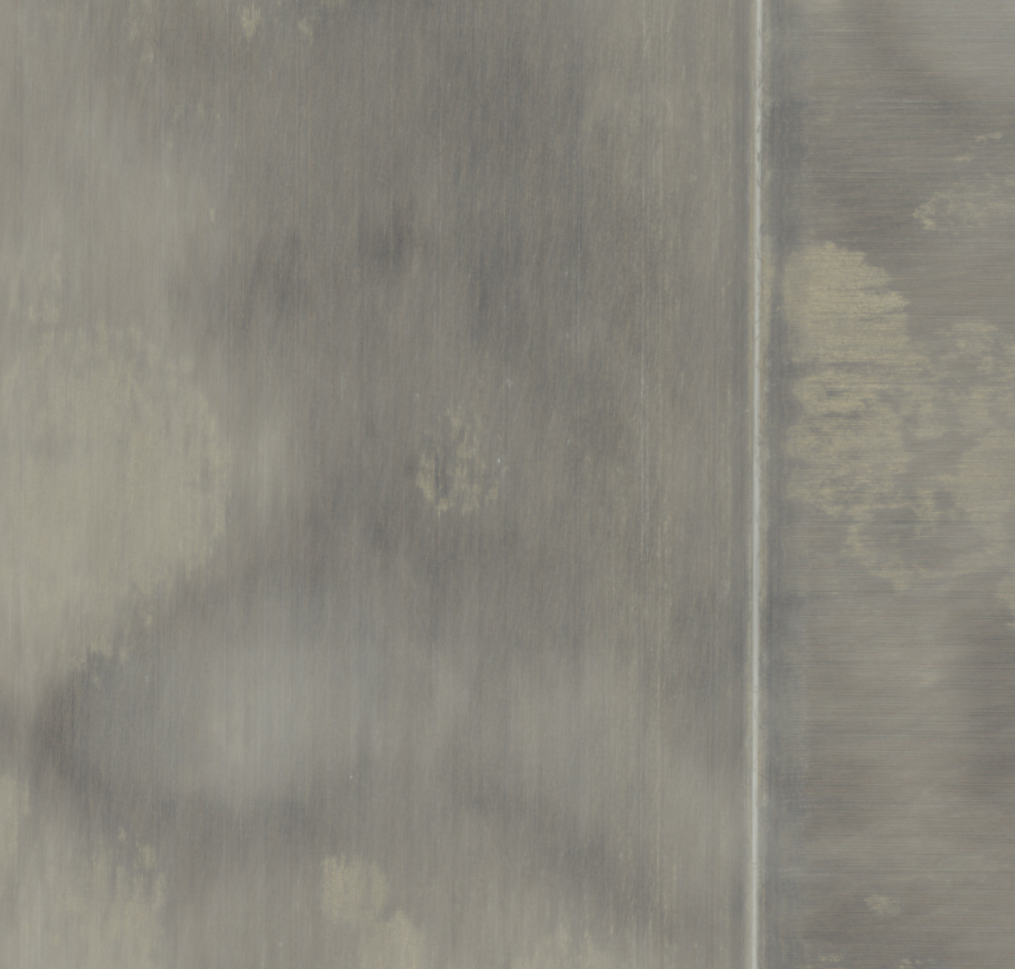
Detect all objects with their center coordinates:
road: (754, 484)

